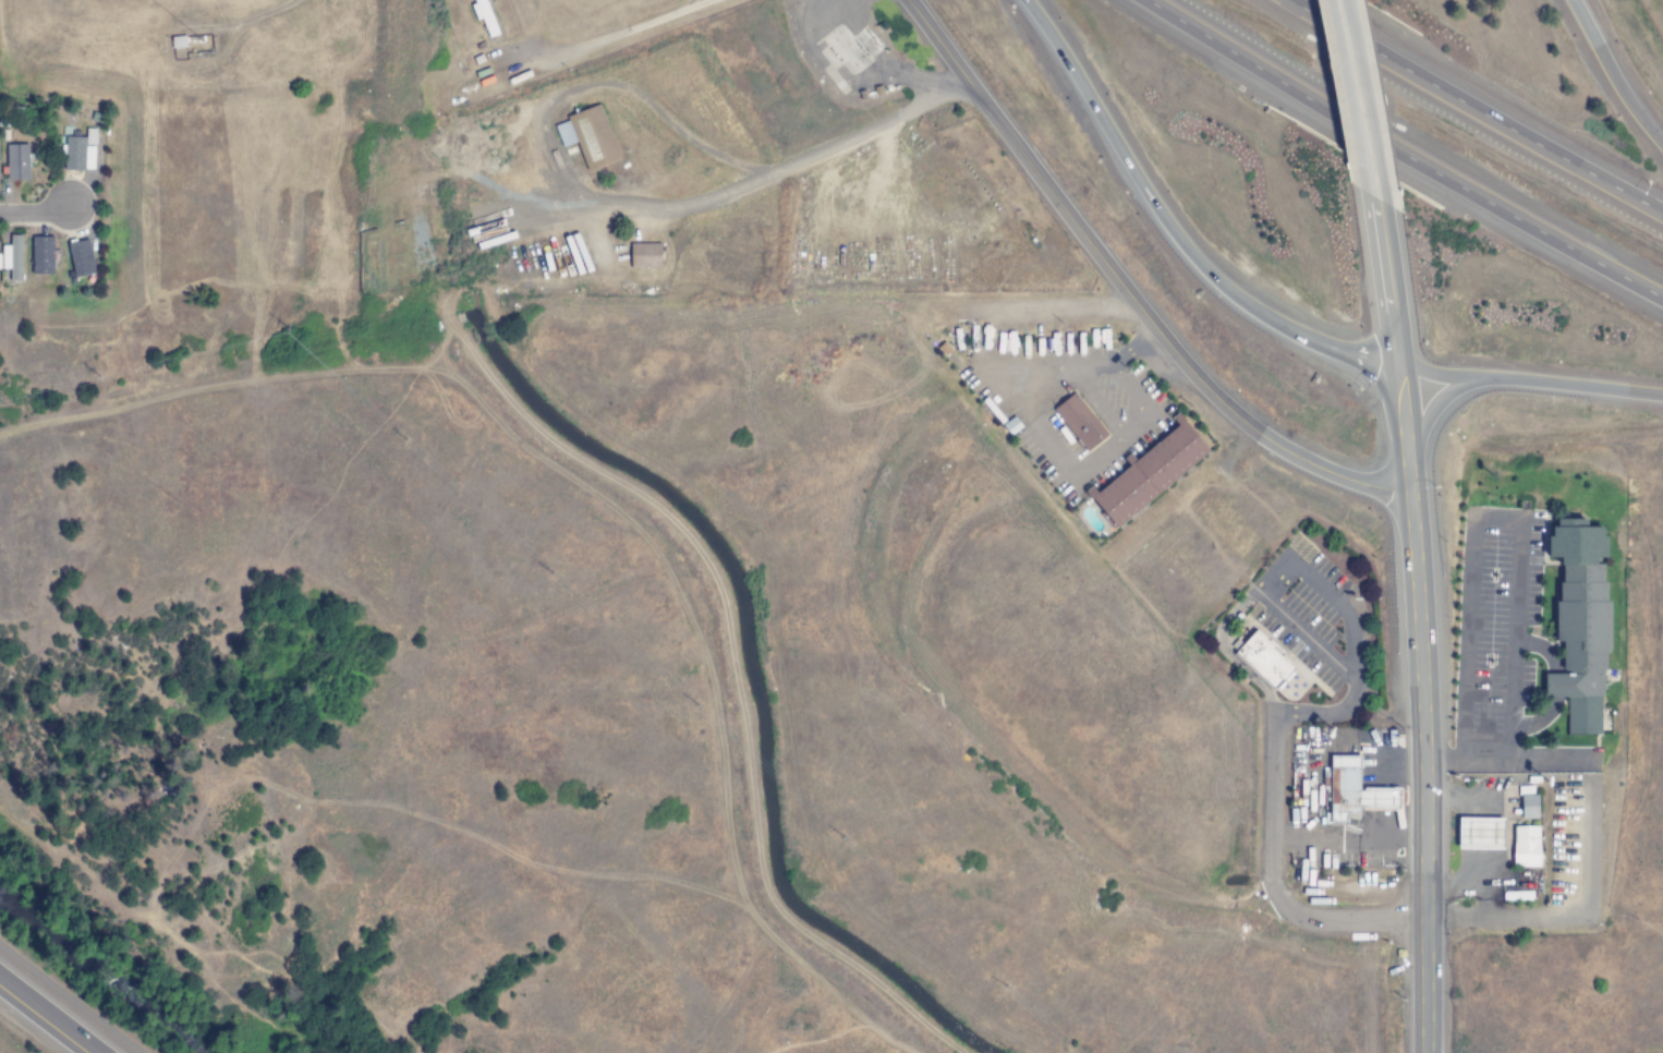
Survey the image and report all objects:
building: (483, 16)
road: (616, 33)
road: (937, 41)
road: (1613, 72)
road: (1374, 107)
road: (1472, 107)
building: (587, 136)
building: (80, 152)
road: (1406, 153)
building: (16, 162)
road: (1170, 196)
road: (600, 206)
road: (36, 211)
building: (41, 255)
building: (644, 256)
building: (12, 258)
building: (80, 258)
road: (1401, 275)
road: (1161, 332)
road: (1383, 351)
road: (1411, 353)
road: (1385, 380)
road: (1537, 380)
road: (1413, 390)
road: (1444, 403)
building: (1079, 422)
road: (1416, 428)
building: (1149, 473)
building: (1579, 622)
building: (1262, 661)
road: (1423, 749)
building: (1352, 792)
road: (1272, 799)
building: (1528, 807)
building: (1479, 834)
building: (1525, 846)
river: (89, 982)
road: (69, 1000)
road: (49, 1015)

